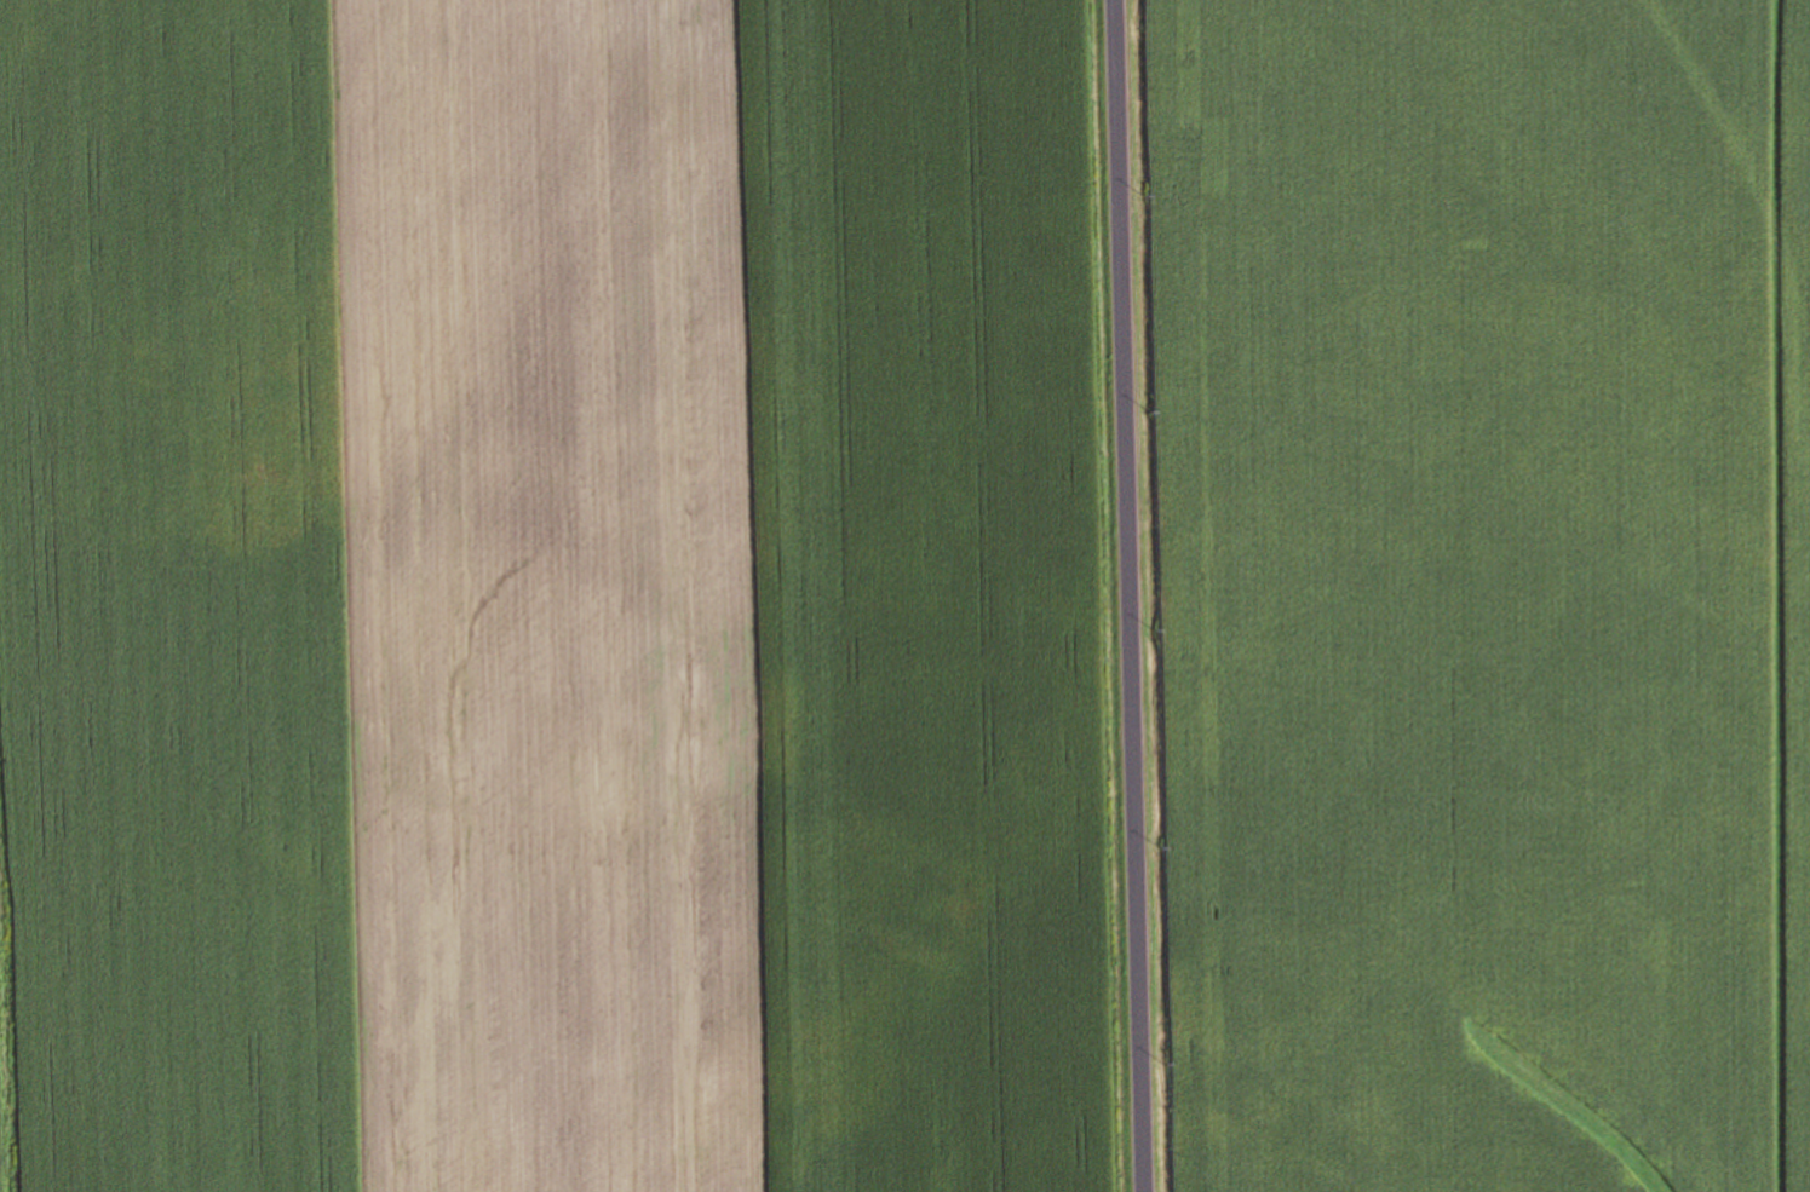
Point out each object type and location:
road: (1133, 595)

